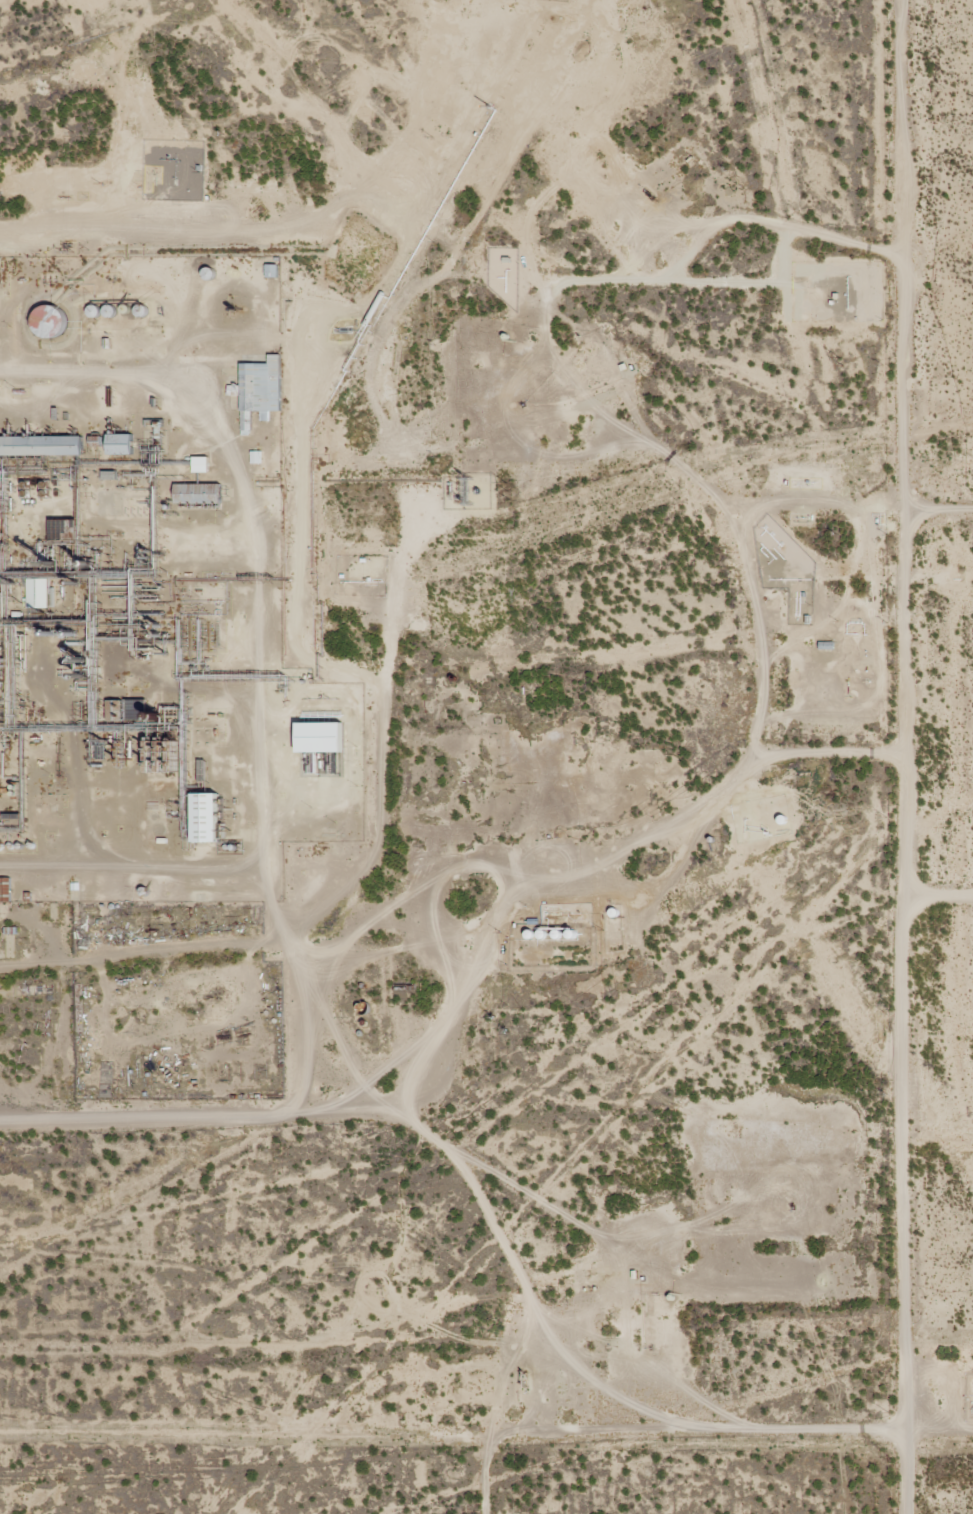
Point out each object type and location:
building: (51, 320)
power tower: (839, 361)
building: (261, 385)
building: (121, 443)
building: (41, 445)
building: (256, 457)
building: (201, 464)
power tower: (506, 488)
power substation: (477, 490)
building: (198, 493)
building: (38, 593)
building: (320, 737)
road: (888, 756)
building: (206, 818)
road: (590, 913)

